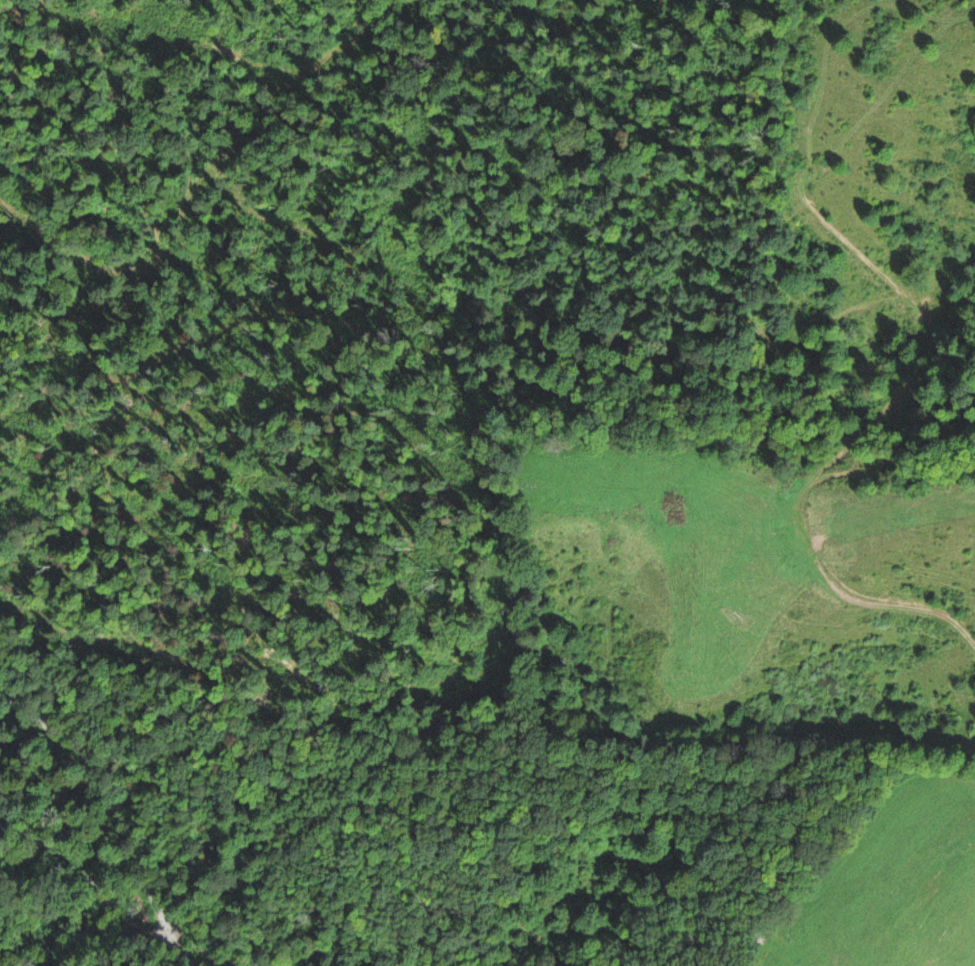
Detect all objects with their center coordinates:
road: (98, 781)
road: (81, 864)
road: (161, 911)
road: (186, 946)

